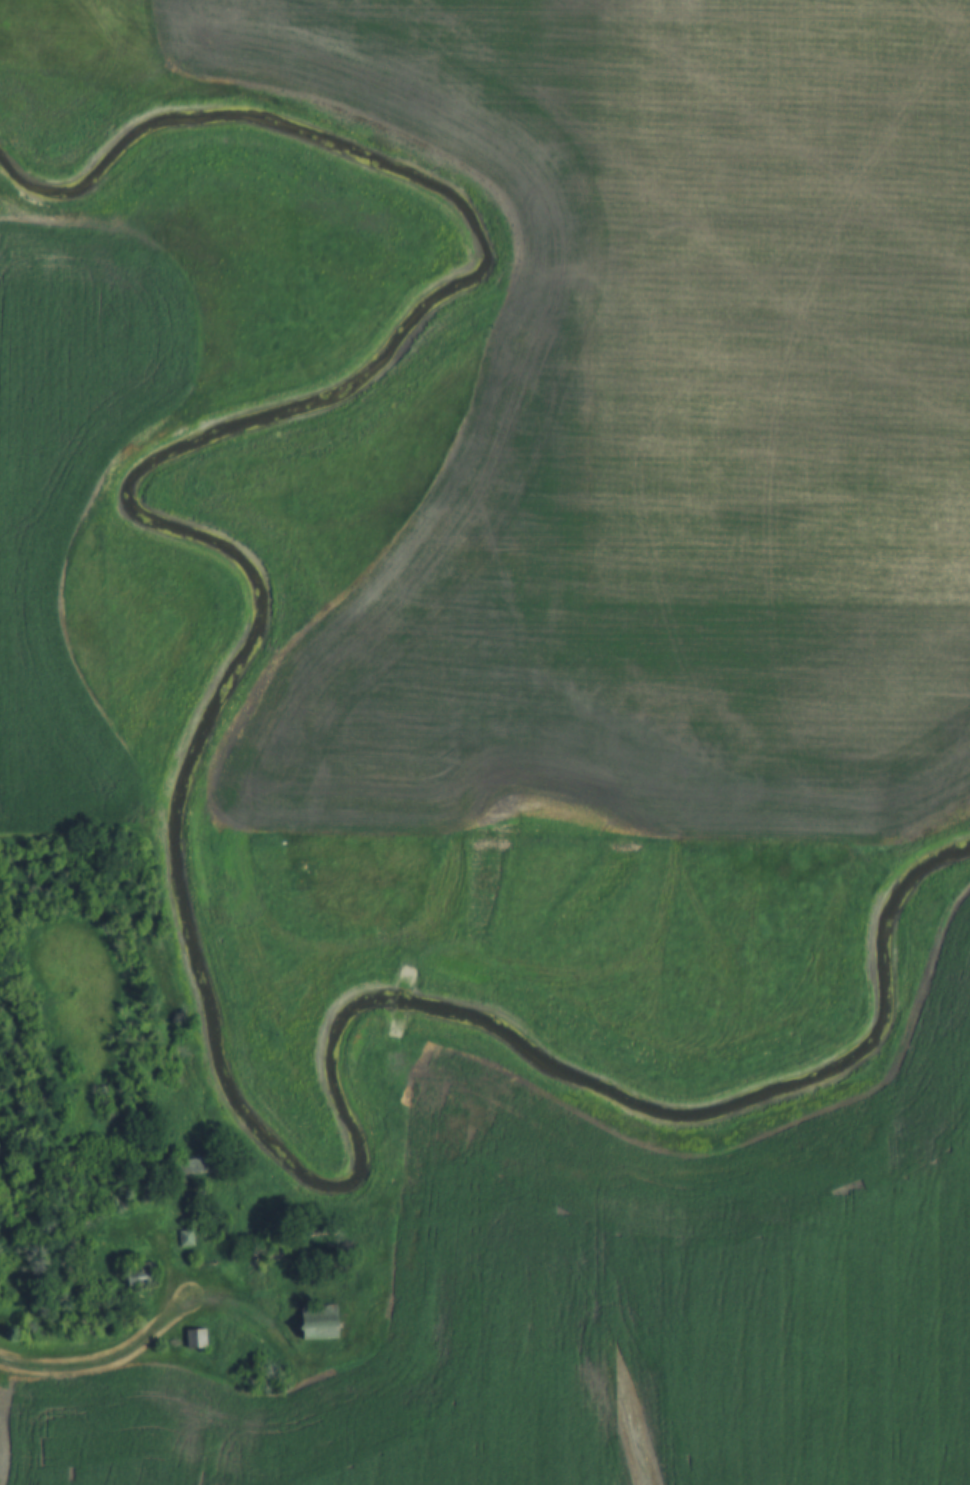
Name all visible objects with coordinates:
building: (137, 1274)
building: (316, 1321)
building: (195, 1338)
road: (98, 1363)

